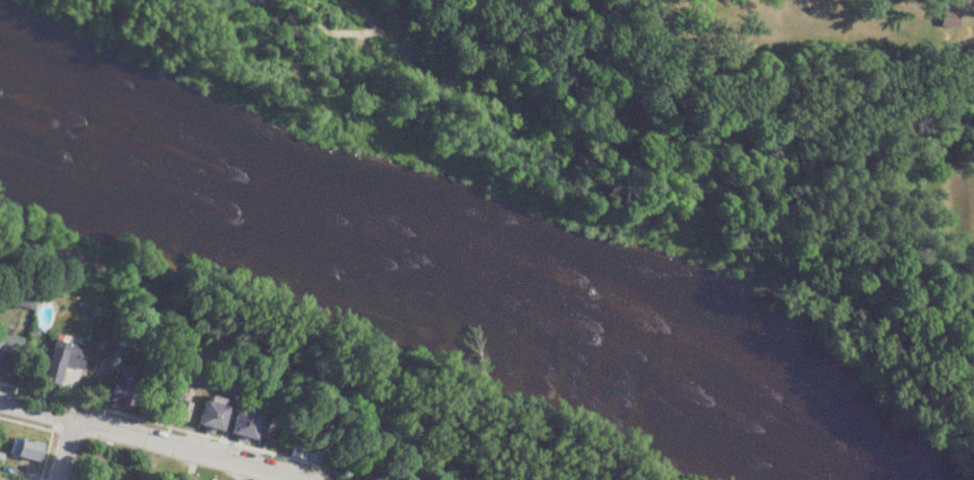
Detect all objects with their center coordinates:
park: (910, 208)
river: (430, 278)
building: (119, 390)
building: (215, 414)
building: (252, 426)
road: (150, 442)
building: (25, 450)
building: (303, 450)
road: (62, 451)

